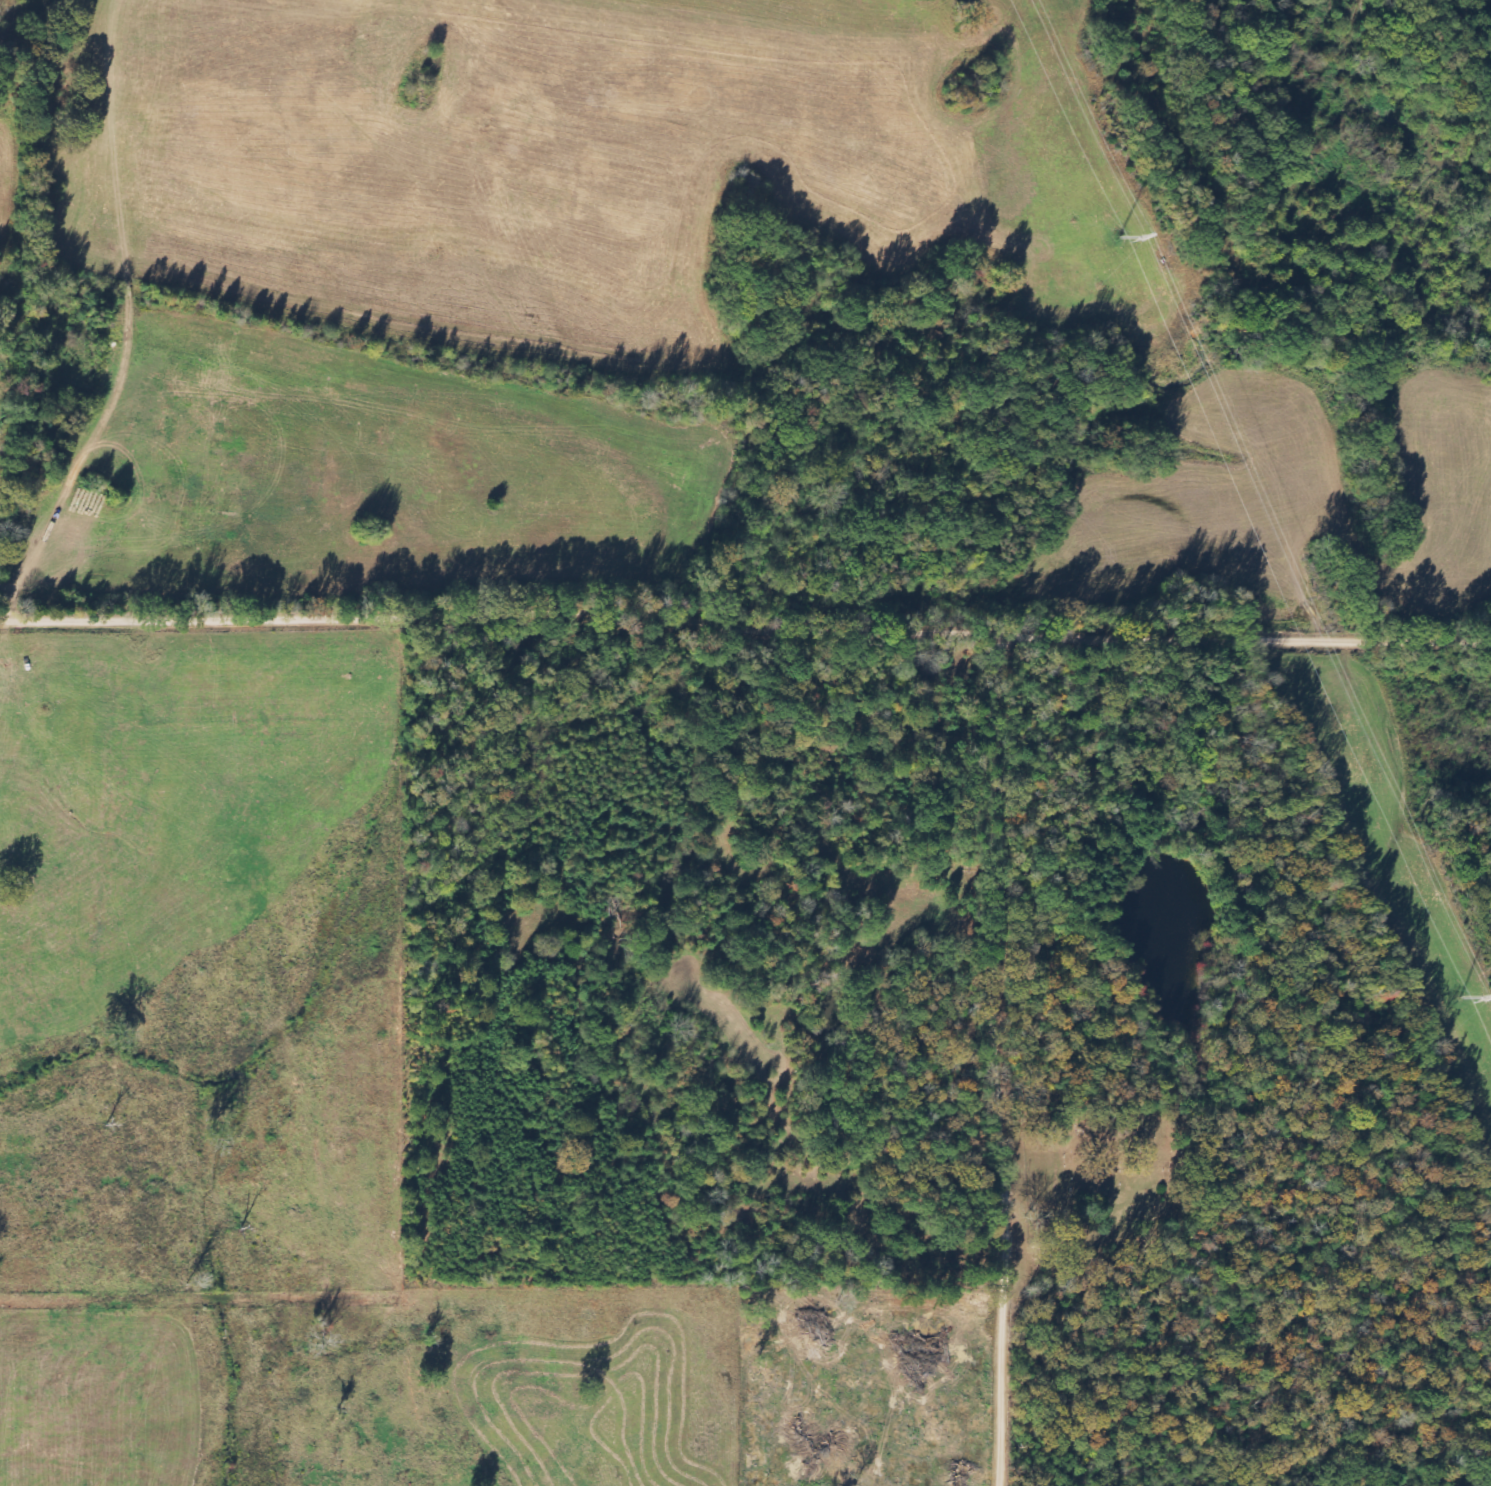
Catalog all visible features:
power tower: (1114, 236)
road: (745, 630)
power tower: (1455, 996)
road: (1008, 1061)
park: (1106, 1177)

